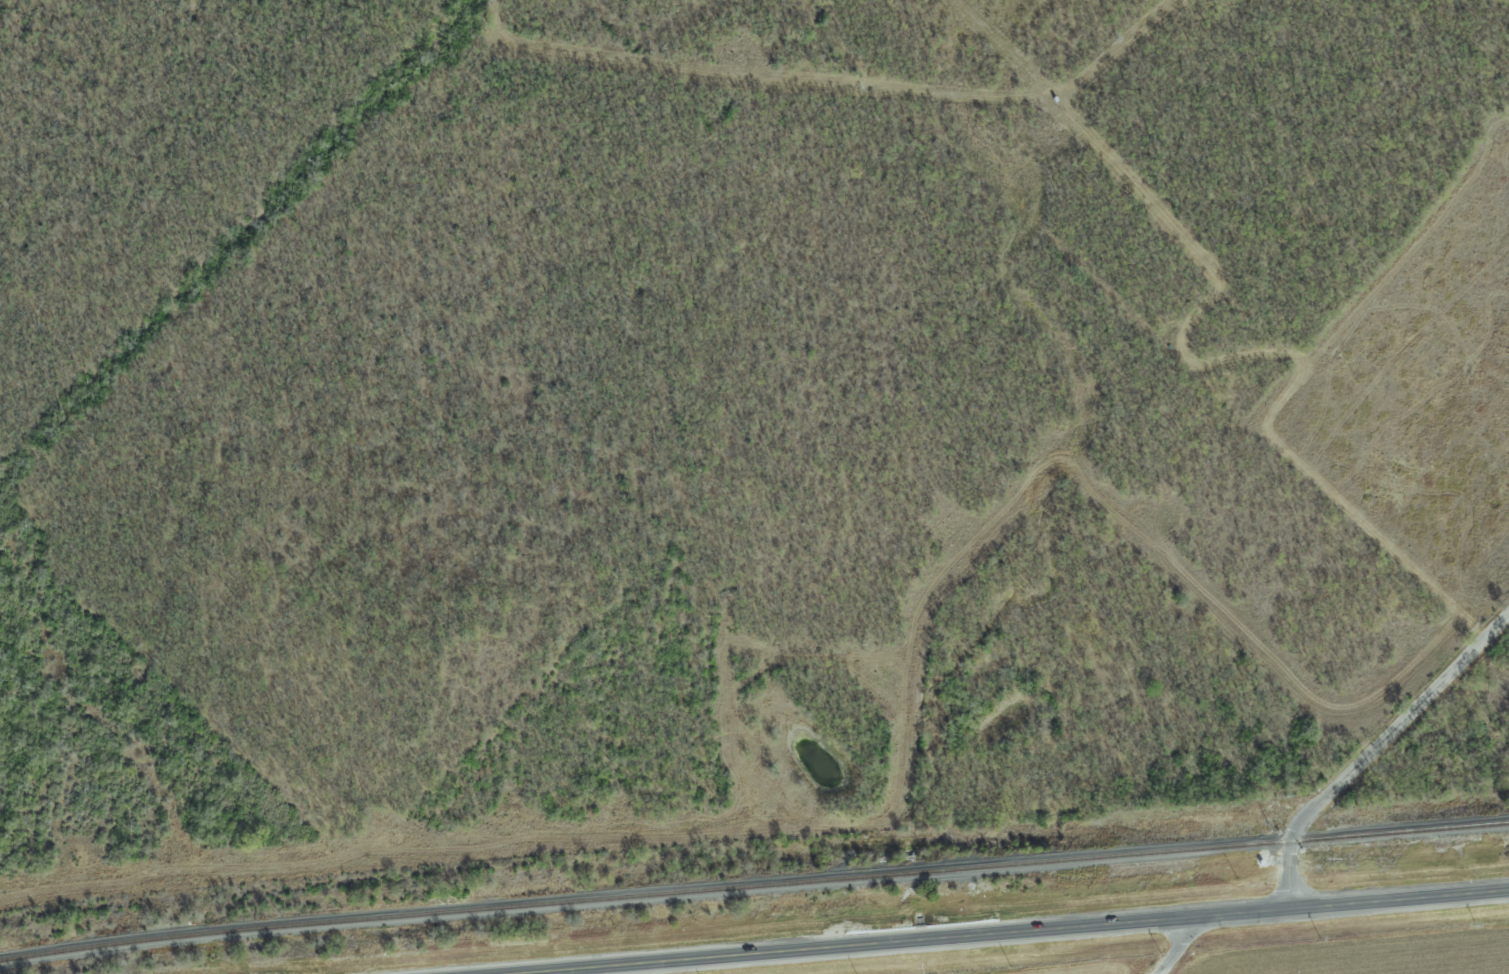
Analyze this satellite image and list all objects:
road: (1372, 750)
railway: (753, 886)
road: (1011, 932)
road: (1179, 948)

